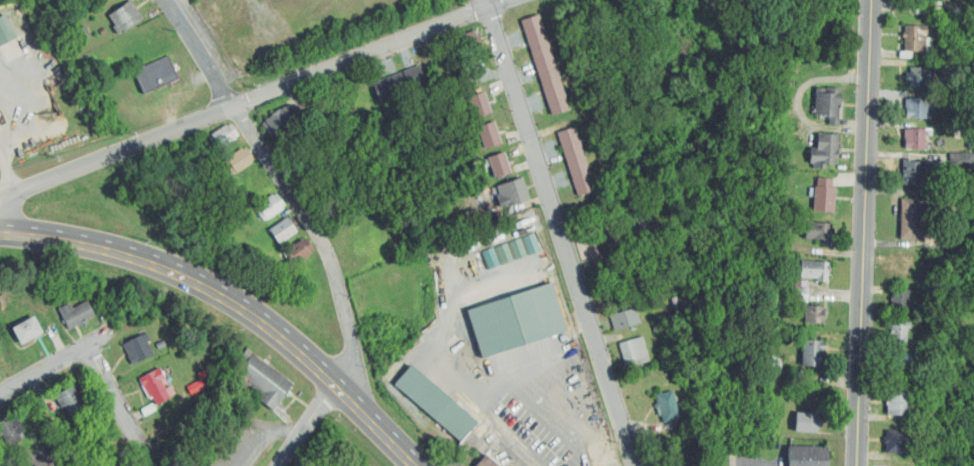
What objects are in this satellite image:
building: (126, 18)
building: (6, 32)
building: (534, 35)
building: (913, 39)
building: (144, 44)
building: (462, 45)
building: (544, 67)
building: (465, 74)
building: (157, 76)
building: (918, 79)
building: (397, 85)
building: (555, 98)
road: (254, 100)
building: (827, 104)
building: (479, 106)
building: (915, 109)
building: (277, 125)
building: (488, 135)
building: (221, 137)
building: (568, 139)
building: (913, 140)
building: (827, 150)
building: (573, 156)
building: (238, 162)
building: (498, 166)
building: (578, 171)
road: (11, 172)
building: (913, 175)
building: (582, 186)
road: (289, 187)
building: (511, 194)
building: (823, 200)
building: (267, 207)
building: (909, 221)
building: (284, 230)
road: (560, 232)
road: (862, 233)
building: (817, 234)
building: (521, 246)
building: (297, 252)
building: (900, 264)
building: (812, 272)
road: (234, 300)
building: (899, 300)
building: (77, 315)
building: (814, 316)
building: (623, 320)
building: (514, 321)
building: (26, 330)
building: (898, 333)
building: (138, 349)
building: (810, 353)
building: (633, 354)
road: (439, 357)
building: (899, 363)
road: (43, 368)
building: (0, 371)
building: (264, 379)
building: (154, 385)
building: (73, 404)
building: (434, 404)
building: (897, 404)
road: (119, 405)
building: (667, 408)
building: (805, 423)
road: (307, 424)
building: (15, 428)
building: (895, 443)
building: (806, 457)
building: (486, 462)

